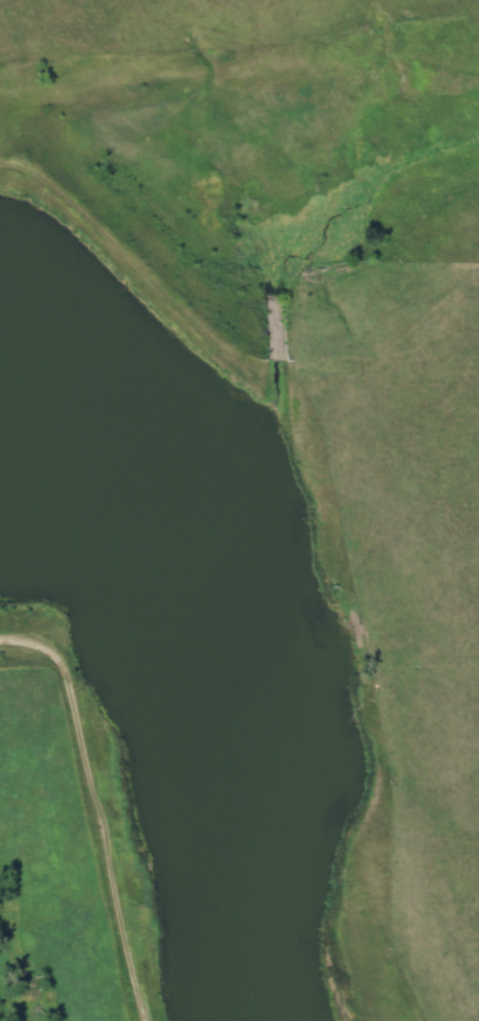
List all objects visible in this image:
road: (88, 808)

